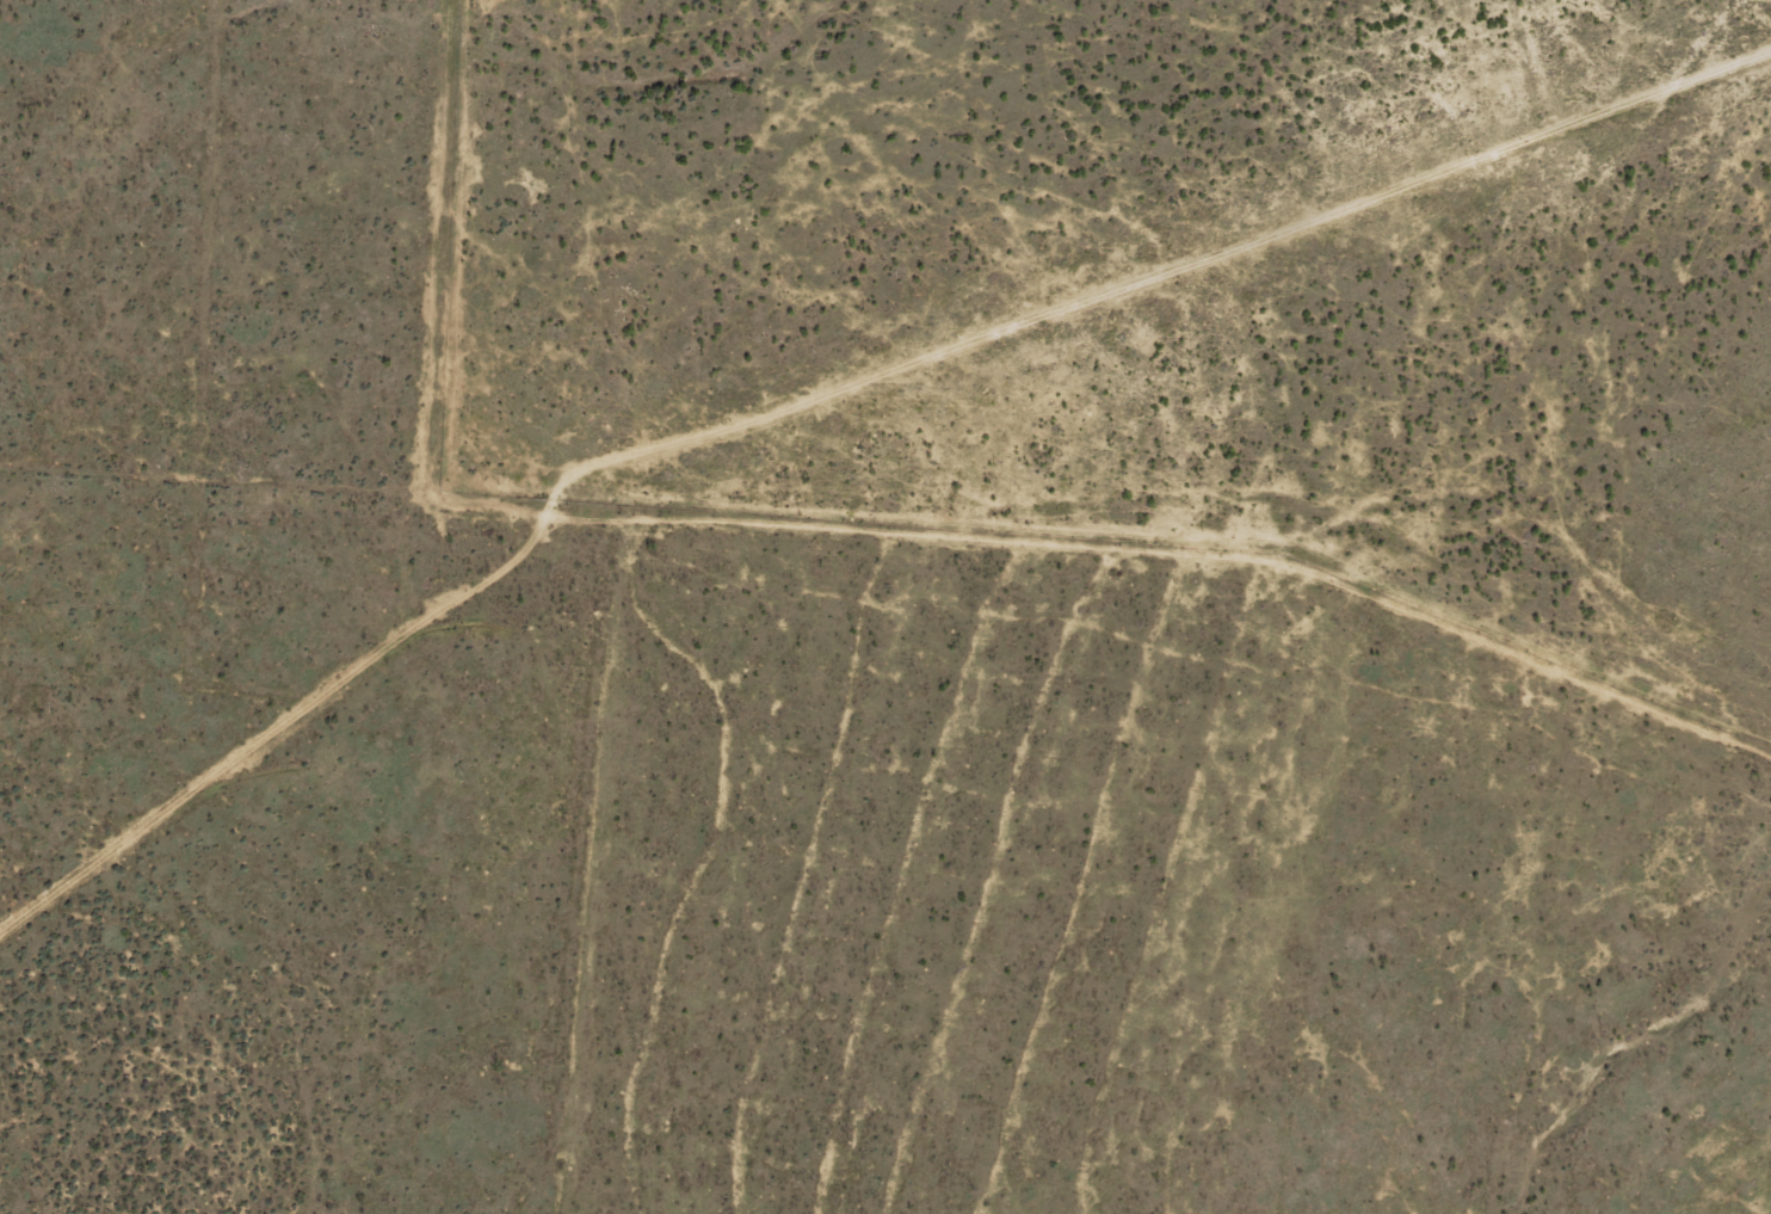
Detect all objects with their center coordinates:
road: (1602, 275)
road: (909, 548)

